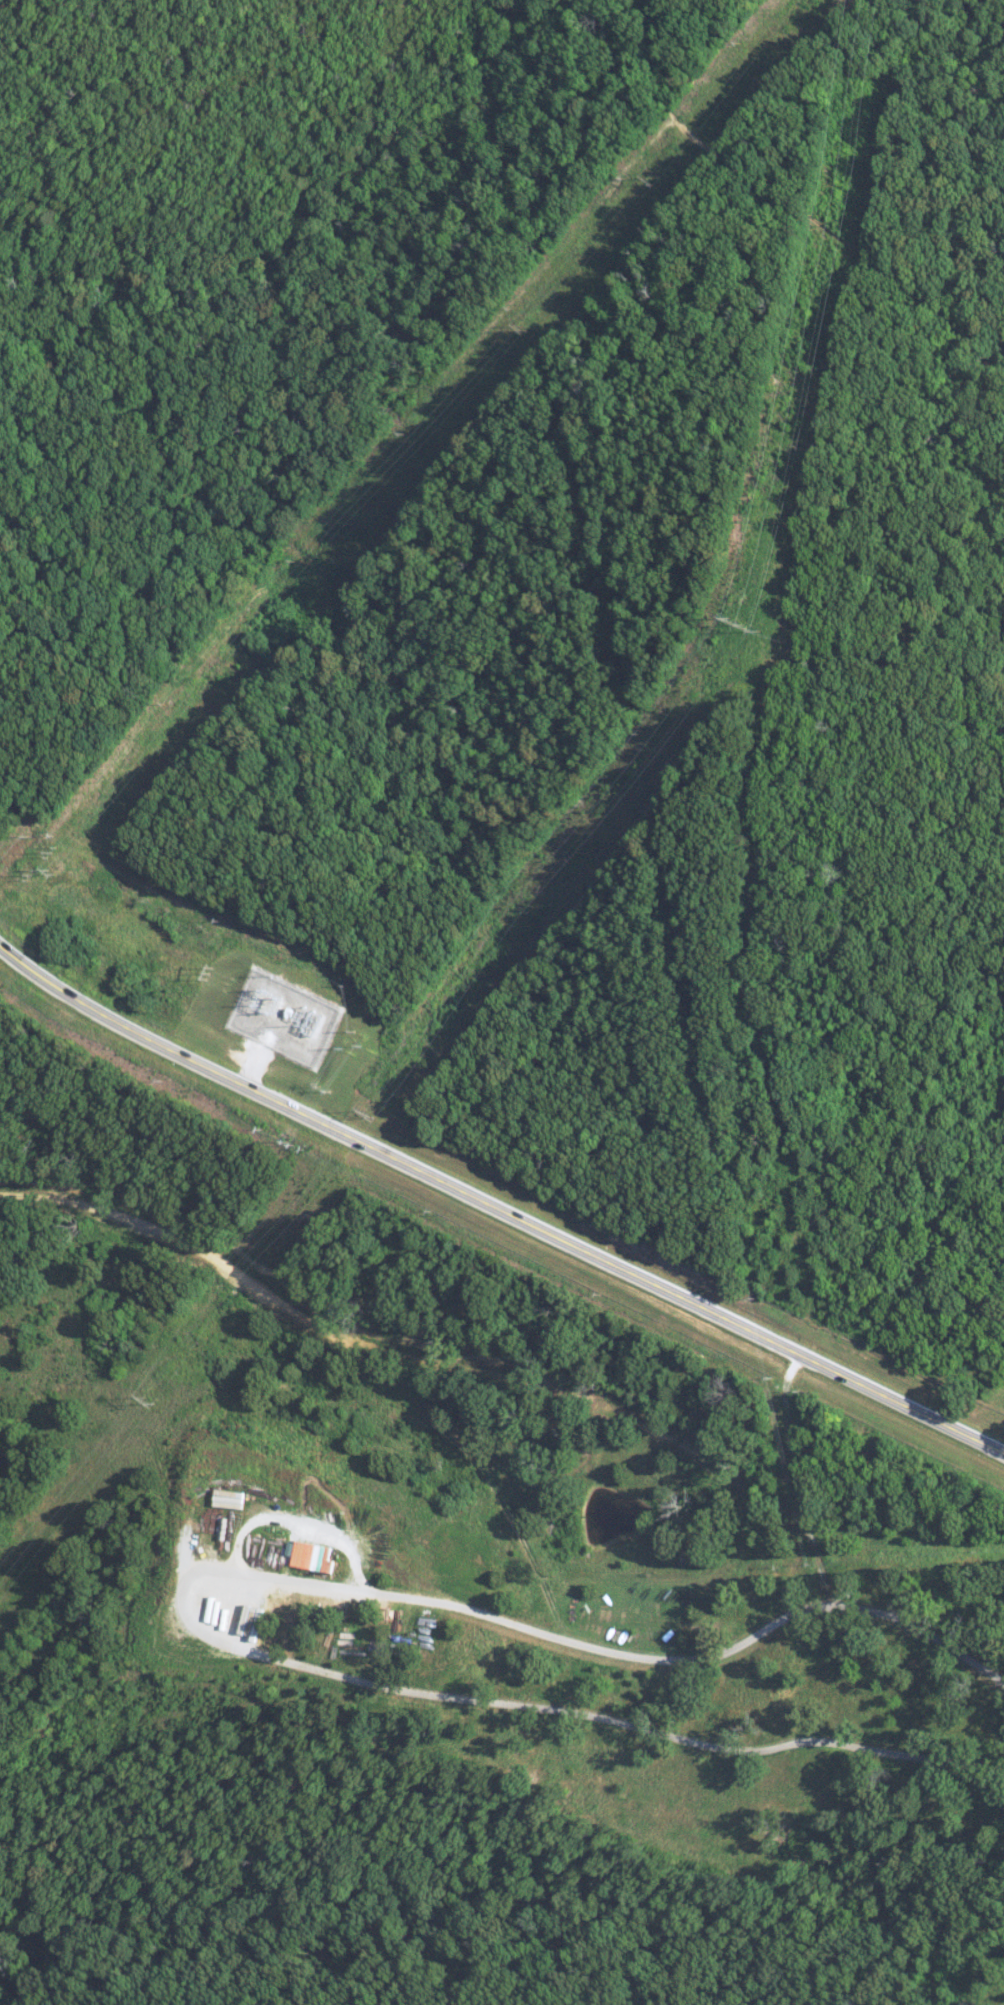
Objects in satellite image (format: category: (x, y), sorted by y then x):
power tower: (651, 180)
power tower: (520, 327)
power tower: (740, 623)
power tower: (49, 871)
power tower: (210, 972)
power substation: (282, 1016)
road: (260, 1054)
power tower: (367, 1112)
road: (496, 1206)
power tower: (147, 1400)
road: (792, 1479)
road: (697, 1664)

